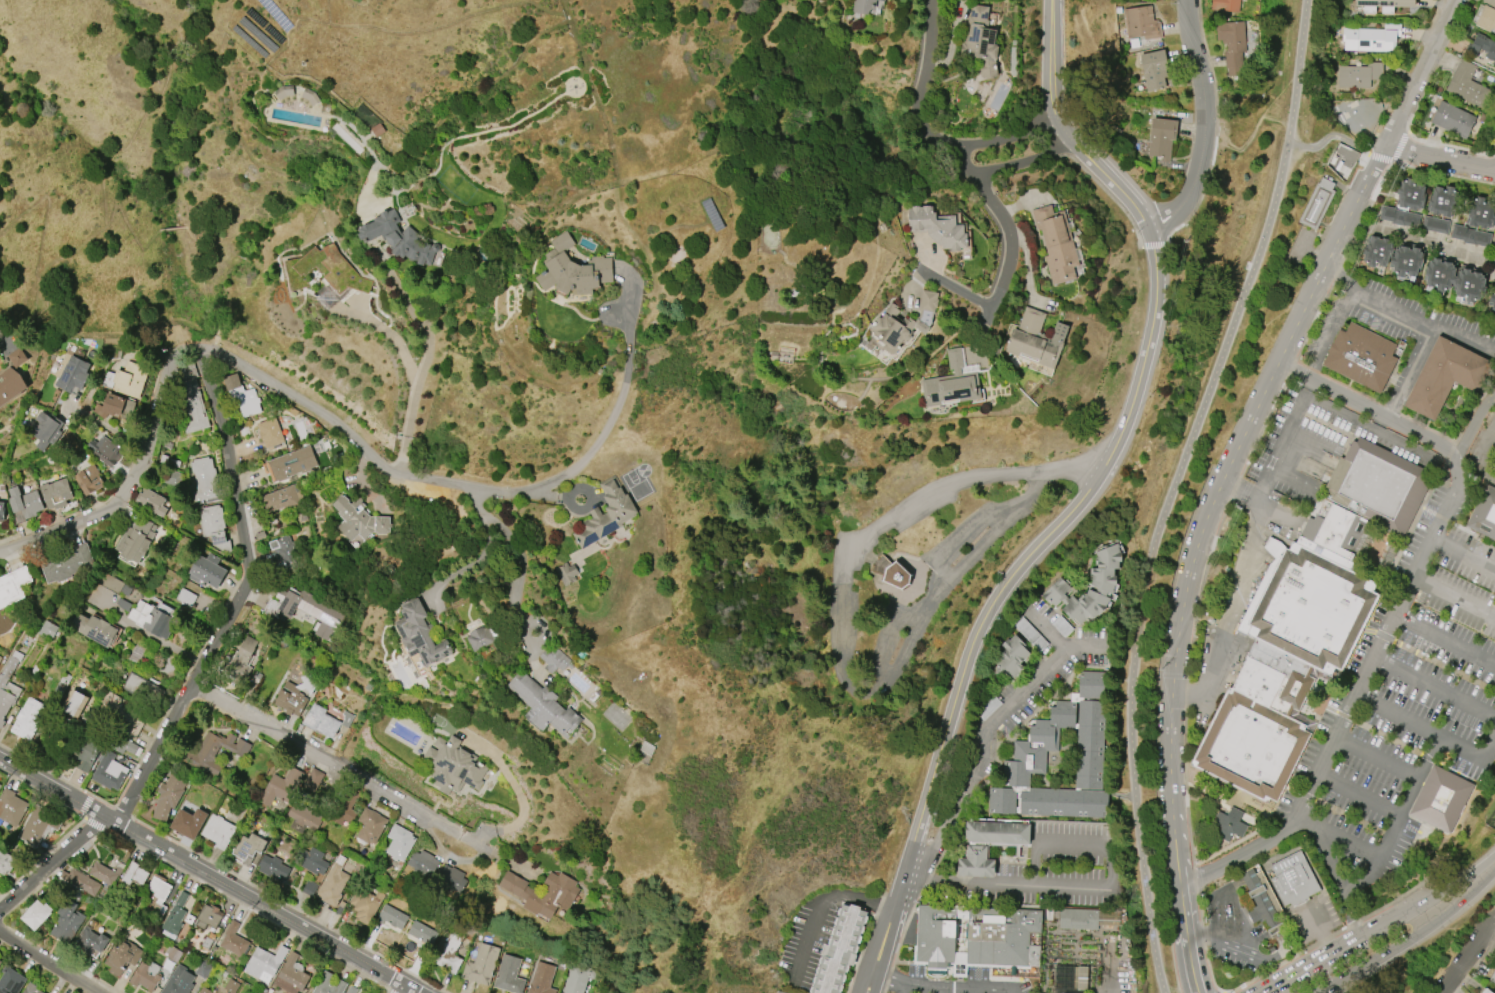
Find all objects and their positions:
building: (1386, 3)
building: (863, 5)
building: (1226, 5)
building: (1485, 15)
building: (1141, 22)
building: (1370, 38)
building: (980, 41)
building: (1233, 45)
building: (1482, 47)
building: (1154, 69)
road: (1417, 71)
building: (1359, 74)
building: (1467, 84)
building: (284, 92)
building: (1453, 119)
road: (1205, 123)
road: (1333, 135)
road: (936, 138)
building: (1161, 138)
road: (1438, 155)
building: (1410, 195)
building: (1443, 201)
building: (1317, 203)
building: (1481, 212)
building: (1398, 216)
building: (1435, 225)
building: (938, 227)
road: (1009, 235)
building: (1470, 235)
building: (399, 237)
road: (1419, 239)
building: (1494, 243)
building: (1057, 244)
building: (1377, 252)
building: (1407, 262)
building: (572, 269)
building: (325, 270)
building: (1455, 280)
road: (956, 288)
building: (1492, 299)
road: (1408, 308)
building: (903, 322)
road: (1330, 332)
building: (1038, 339)
road: (392, 340)
road: (3, 347)
building: (1362, 354)
road: (224, 358)
road: (423, 364)
road: (1410, 370)
building: (72, 375)
building: (1447, 375)
building: (127, 379)
building: (951, 384)
building: (10, 386)
road: (1301, 394)
building: (242, 396)
building: (192, 399)
building: (118, 407)
road: (615, 411)
road: (1471, 425)
road: (1401, 428)
building: (47, 430)
building: (270, 432)
road: (1309, 437)
building: (108, 452)
road: (1116, 458)
road: (1478, 459)
building: (291, 464)
building: (1493, 466)
building: (1494, 472)
road: (1293, 477)
building: (89, 480)
building: (205, 481)
building: (1383, 484)
road: (1174, 489)
building: (55, 492)
road: (554, 496)
building: (283, 499)
building: (151, 501)
building: (25, 502)
road: (914, 502)
building: (2, 511)
building: (1483, 513)
building: (606, 514)
building: (360, 518)
road: (490, 520)
building: (214, 526)
building: (1344, 538)
building: (136, 539)
road: (1192, 549)
building: (285, 553)
road: (1464, 555)
building: (1108, 557)
building: (68, 564)
road: (472, 566)
building: (207, 571)
building: (566, 573)
building: (897, 576)
road: (1414, 578)
building: (1103, 580)
road: (943, 584)
road: (932, 585)
building: (13, 586)
road: (1234, 588)
road: (520, 592)
building: (1055, 592)
road: (240, 597)
road: (1454, 599)
building: (1094, 602)
building: (1074, 610)
building: (1315, 610)
building: (307, 614)
building: (154, 618)
building: (49, 629)
building: (95, 629)
road: (1049, 631)
building: (420, 634)
building: (479, 638)
road: (1445, 643)
building: (1011, 658)
building: (555, 660)
building: (240, 661)
road: (1440, 666)
road: (1041, 676)
building: (1275, 677)
building: (264, 683)
building: (1091, 685)
building: (8, 686)
road: (1436, 687)
building: (144, 689)
building: (291, 699)
building: (75, 705)
building: (544, 706)
parking lot: (1402, 708)
building: (120, 712)
road: (1394, 714)
building: (29, 718)
building: (325, 721)
road: (1387, 738)
building: (1089, 744)
building: (1038, 745)
building: (1254, 747)
building: (215, 751)
building: (85, 752)
road: (327, 758)
road: (1376, 759)
building: (454, 766)
building: (110, 772)
building: (312, 781)
building: (0, 786)
building: (281, 787)
road: (1306, 793)
building: (169, 795)
road: (1358, 796)
building: (1441, 799)
building: (999, 801)
road: (521, 802)
building: (1062, 802)
building: (11, 807)
building: (343, 812)
building: (305, 816)
road: (954, 817)
road: (1347, 817)
road: (1397, 821)
building: (189, 822)
building: (1228, 824)
building: (39, 825)
building: (371, 826)
building: (219, 830)
building: (999, 832)
road: (1338, 835)
building: (400, 842)
road: (484, 846)
building: (250, 849)
road: (1240, 854)
building: (311, 860)
building: (6, 861)
road: (49, 862)
building: (423, 863)
building: (977, 863)
building: (273, 867)
road: (225, 869)
building: (105, 872)
building: (135, 874)
road: (209, 877)
building: (1295, 879)
building: (452, 880)
building: (81, 881)
road: (1090, 885)
road: (1468, 886)
building: (333, 887)
building: (308, 889)
building: (160, 894)
building: (543, 896)
building: (1264, 900)
road: (1261, 901)
road: (818, 903)
building: (366, 905)
building: (37, 914)
road: (1349, 915)
road: (1407, 915)
building: (175, 916)
building: (209, 916)
building: (69, 917)
building: (392, 919)
building: (1078, 919)
road: (1220, 920)
road: (880, 932)
road: (1320, 933)
building: (421, 935)
building: (936, 936)
road: (894, 937)
building: (1004, 937)
road: (1203, 938)
road: (1358, 941)
building: (90, 942)
building: (234, 942)
road: (864, 944)
building: (448, 950)
building: (841, 950)
road: (1276, 952)
road: (1386, 953)
building: (123, 956)
road: (1467, 957)
building: (0, 959)
road: (48, 961)
building: (0, 962)
building: (265, 962)
building: (482, 964)
road: (1106, 964)
parking lot: (1112, 969)
road: (1302, 973)
road: (874, 974)
building: (292, 975)
building: (508, 975)
building: (147, 976)
building: (541, 978)
building: (576, 978)
building: (1493, 978)
building: (11, 980)
building: (179, 981)
road: (862, 981)
road: (947, 983)
parking lot: (954, 983)
building: (329, 984)
road: (879, 985)
road: (901, 987)
road: (937, 988)
building: (32, 989)
building: (352, 989)
road: (972, 989)
building: (204, 990)
road: (402, 990)
road: (1012, 990)
road: (1167, 991)
building: (1485, 991)
building: (779, 992)

